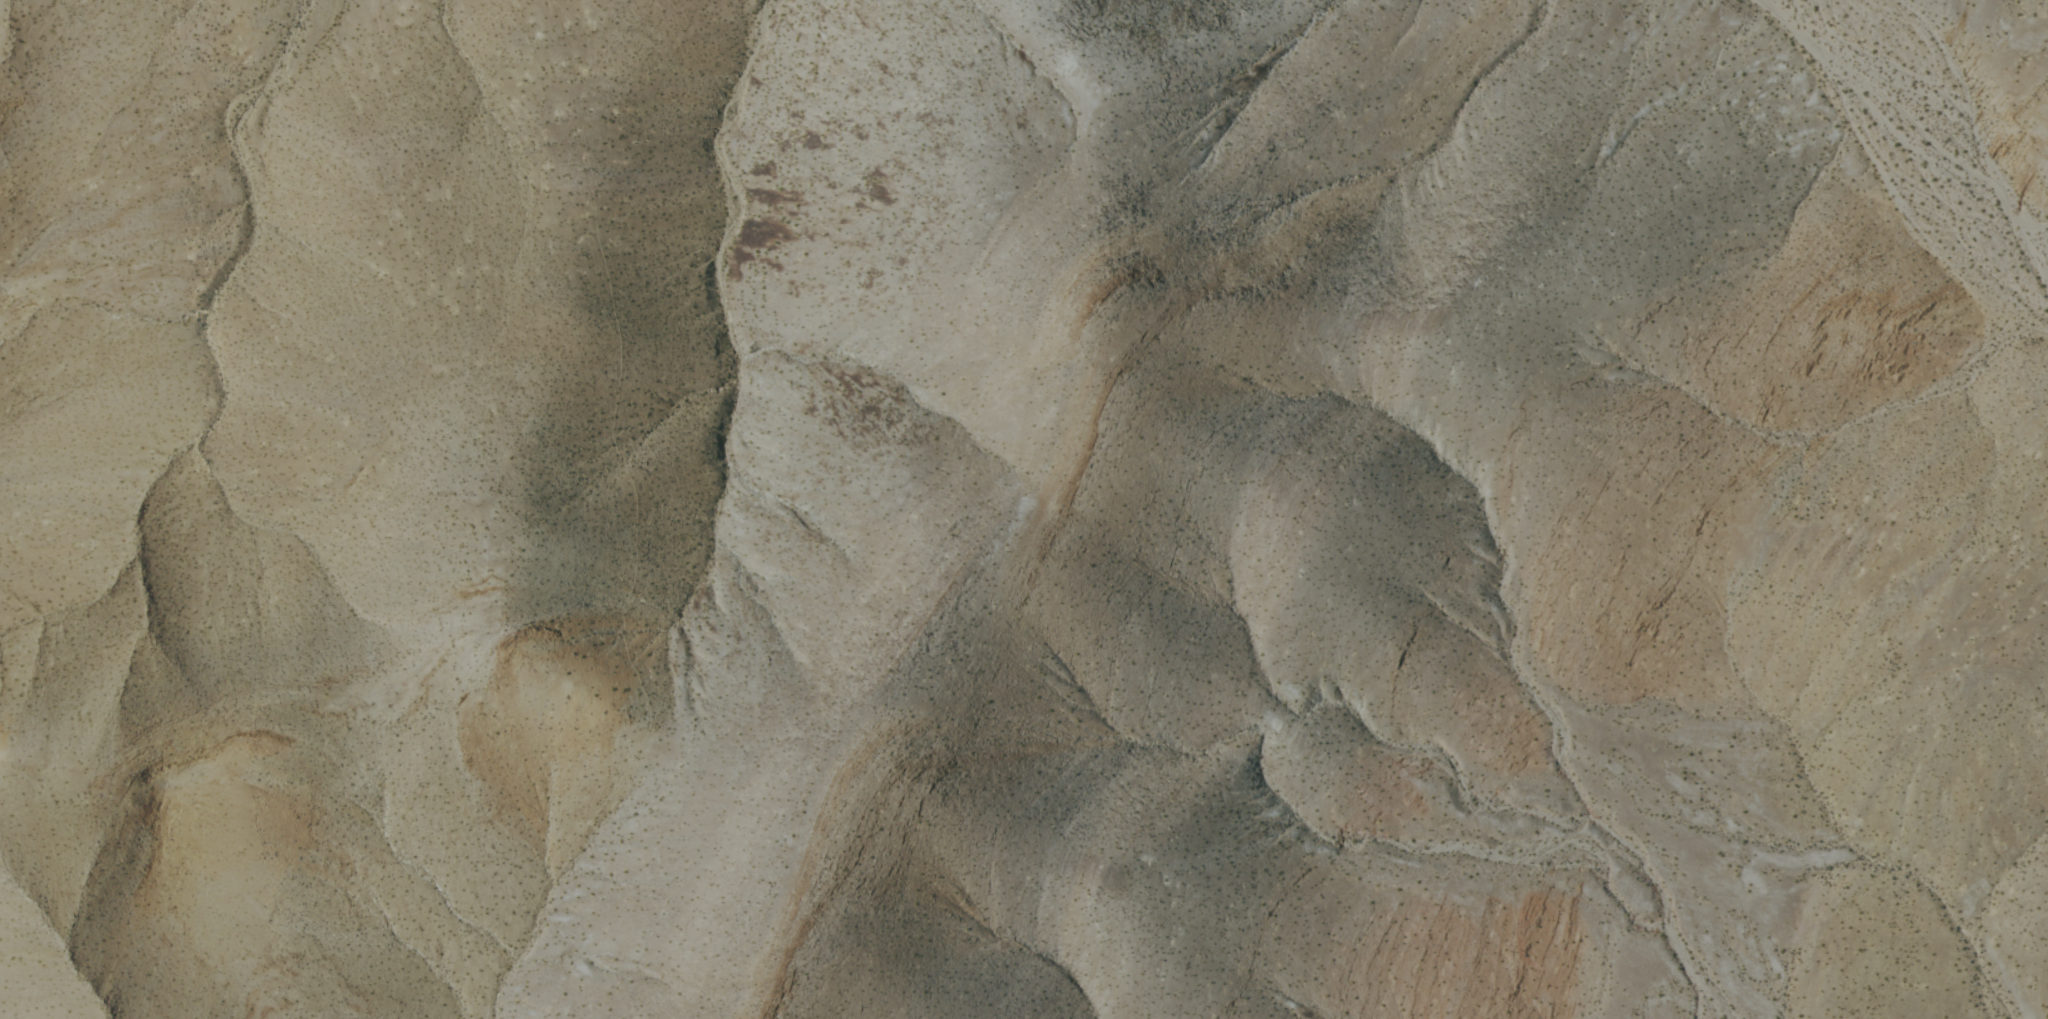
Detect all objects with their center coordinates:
road: (1898, 125)

